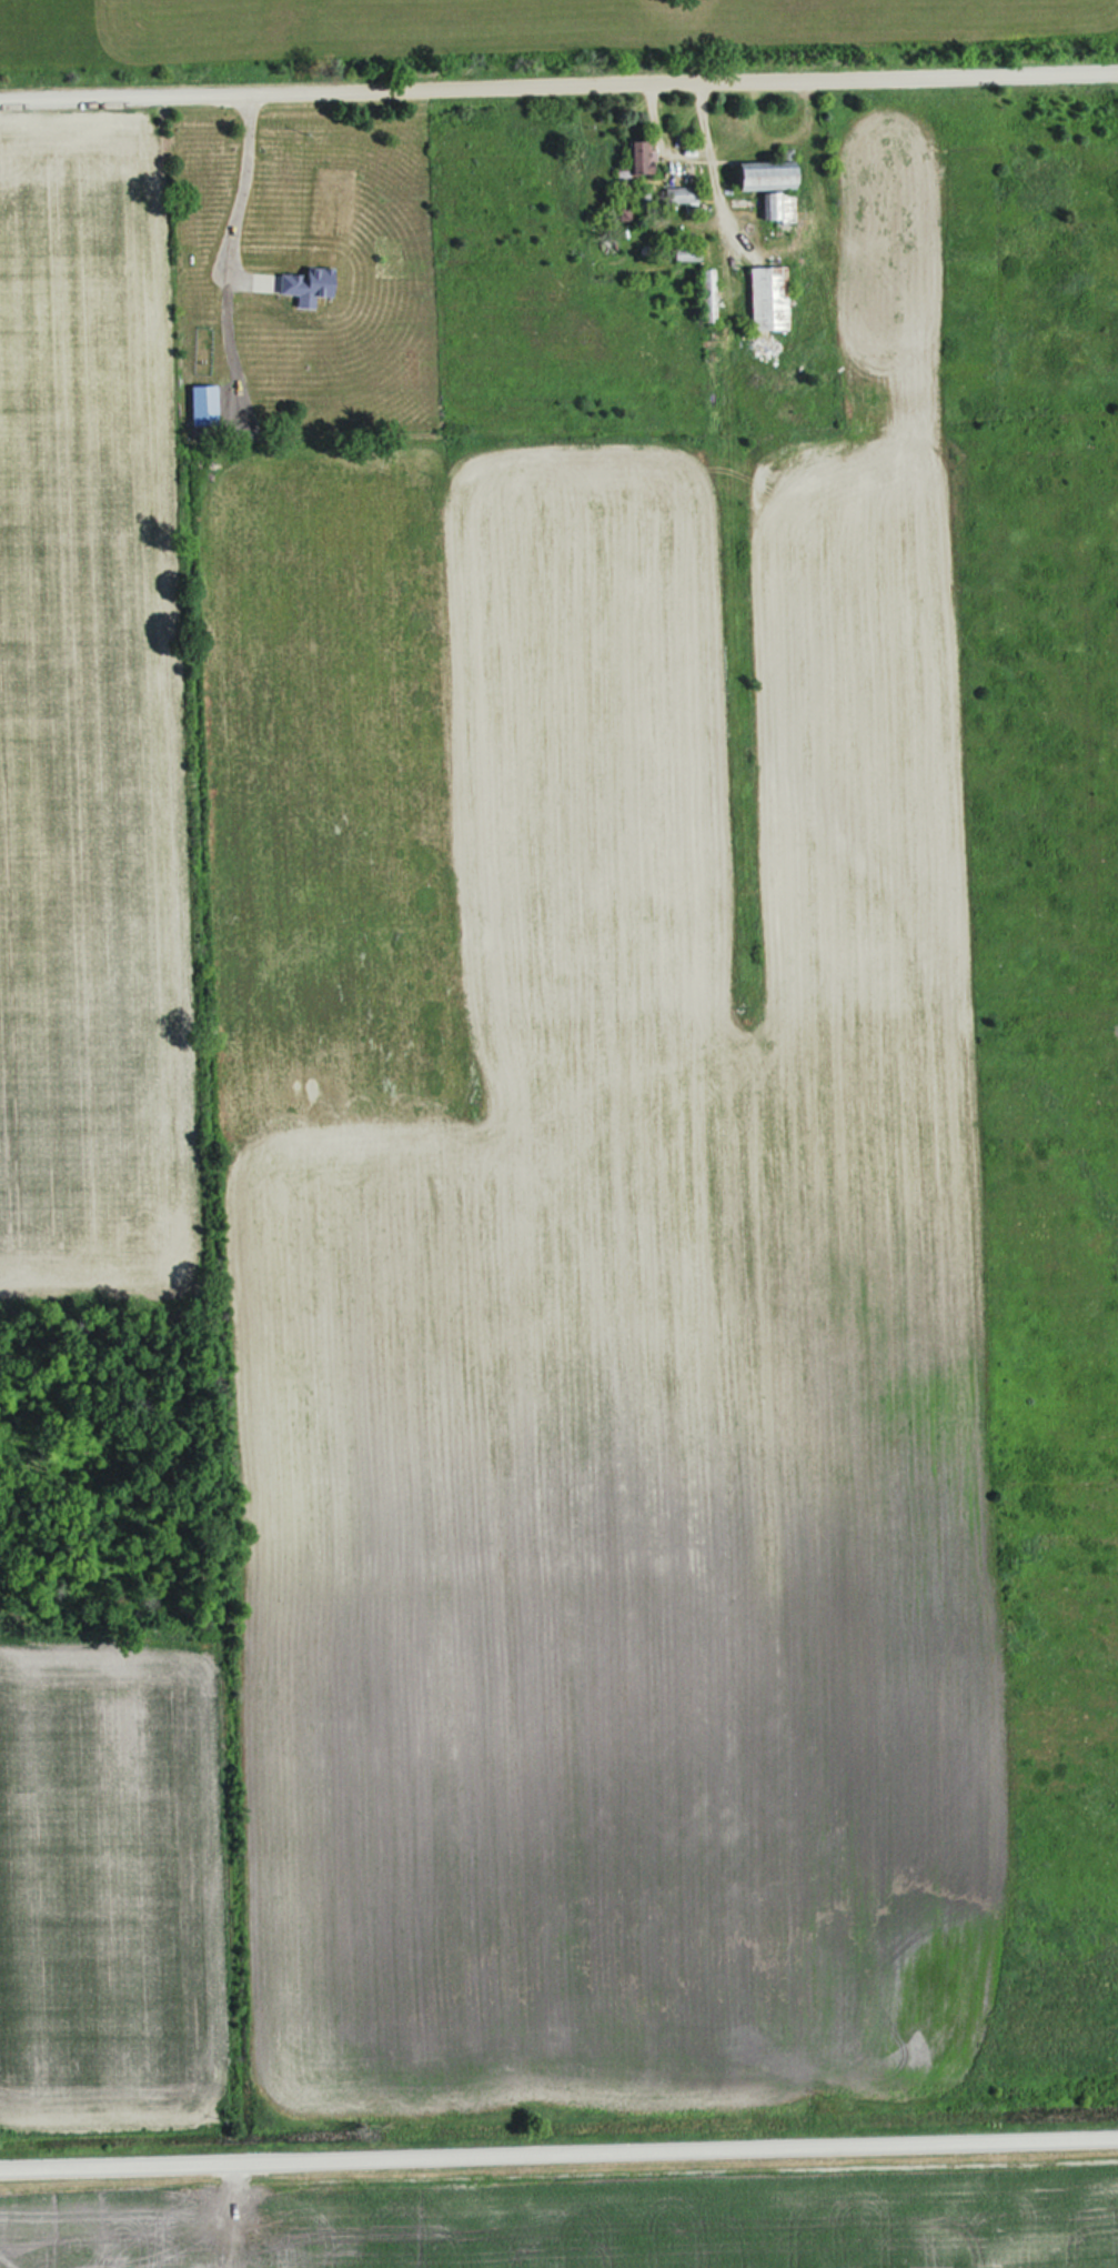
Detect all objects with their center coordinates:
road: (558, 83)
building: (776, 173)
road: (243, 180)
building: (782, 205)
building: (314, 282)
building: (774, 298)
road: (558, 2149)
road: (231, 2212)

